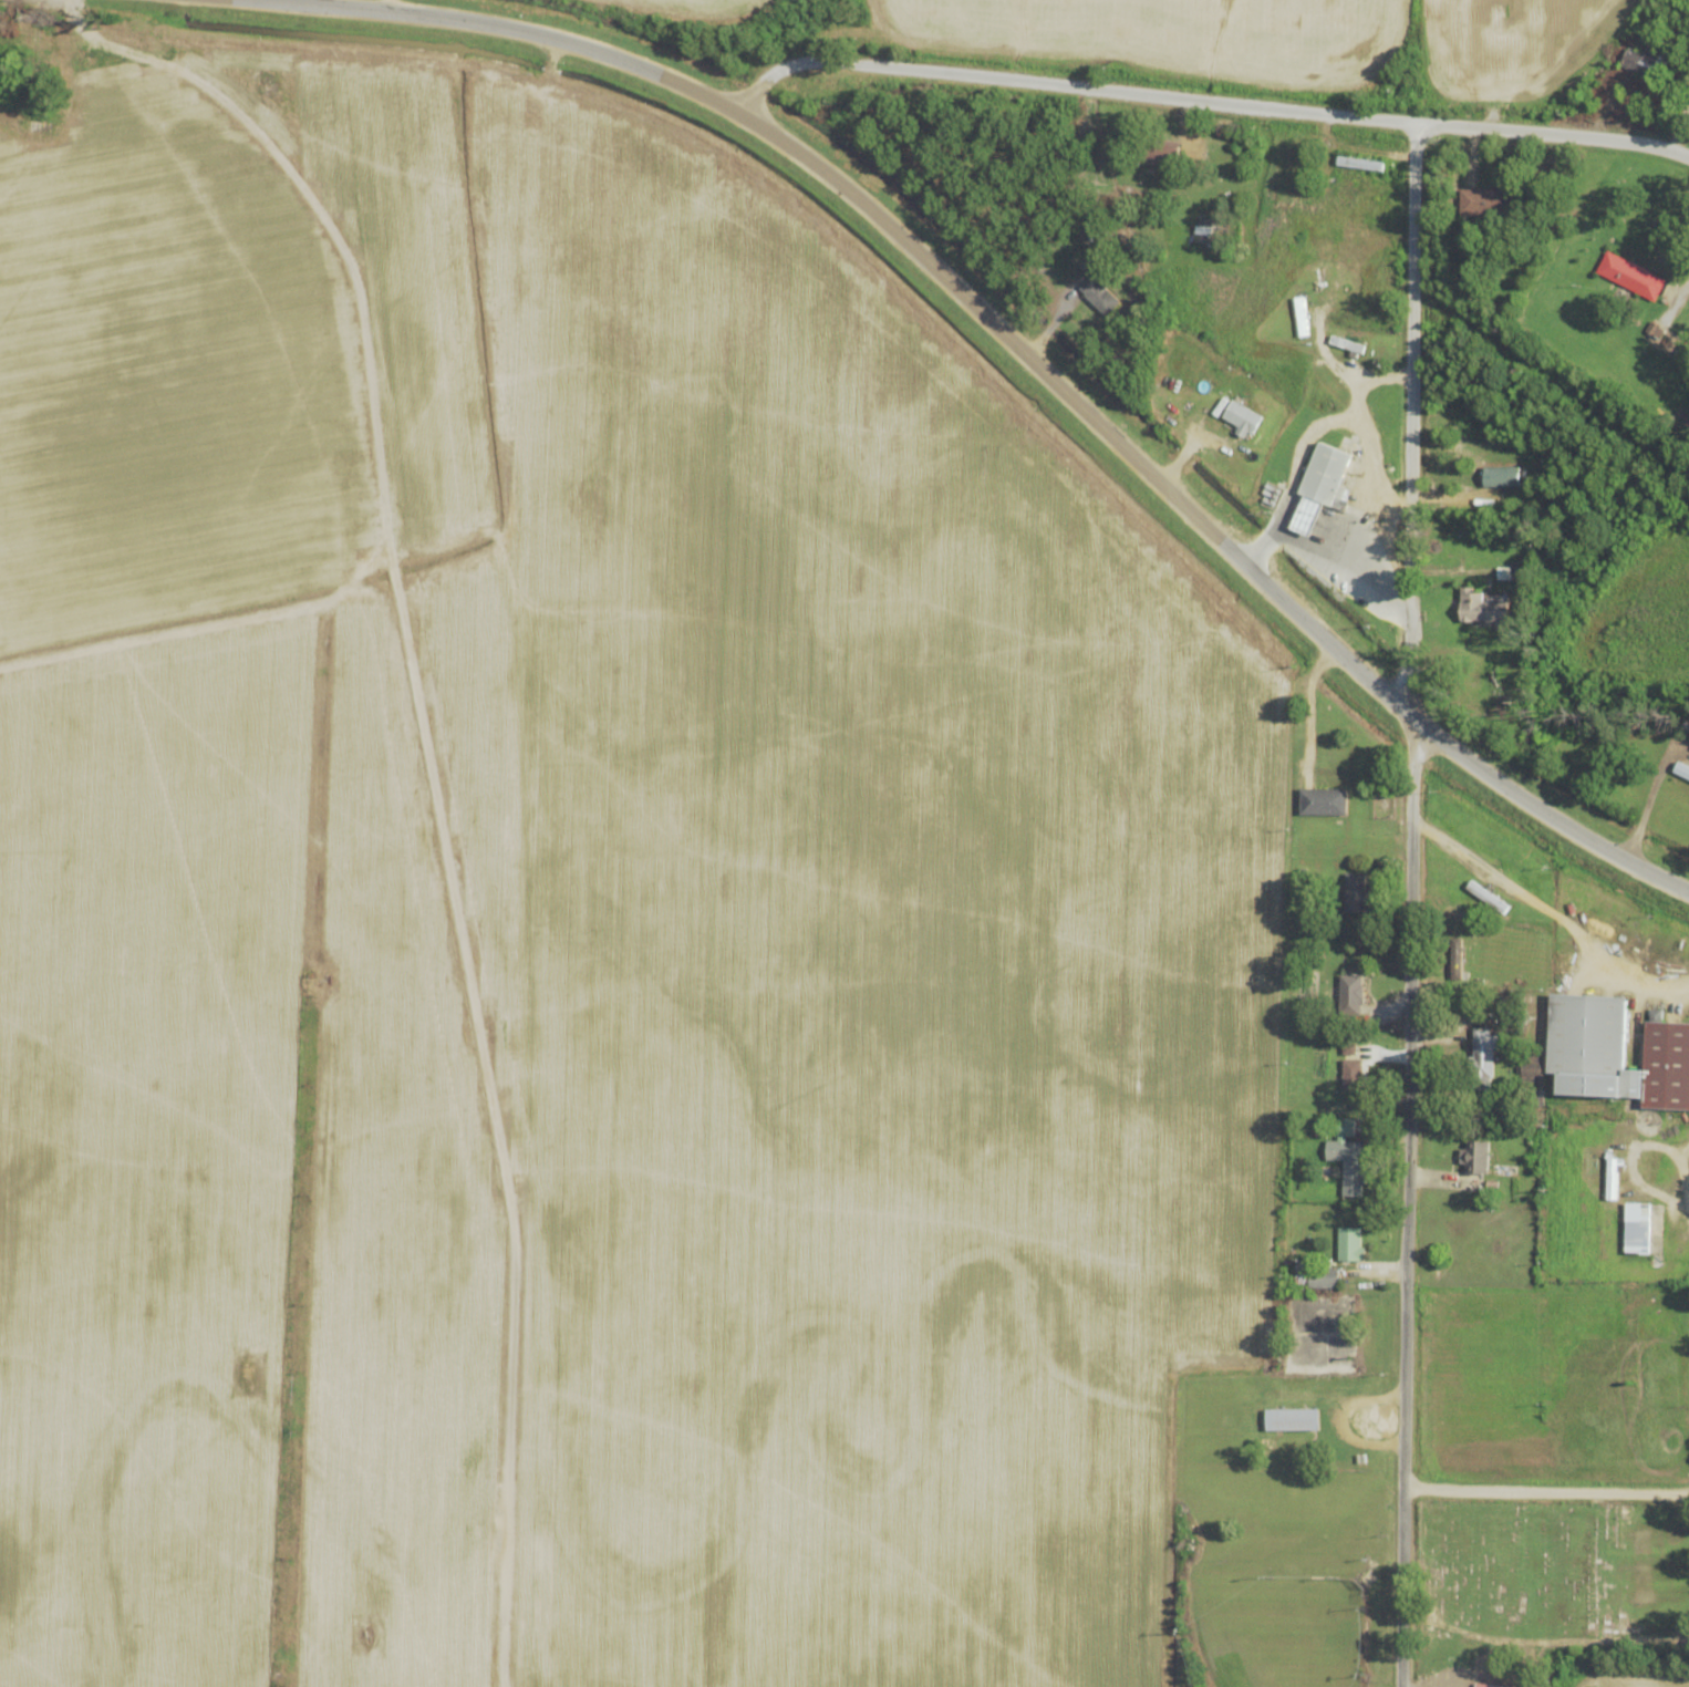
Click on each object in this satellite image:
building: (1679, 10)
road: (504, 25)
building: (1644, 62)
road: (1203, 99)
building: (1160, 156)
building: (1486, 203)
building: (1203, 230)
building: (1630, 276)
building: (1099, 297)
building: (1302, 317)
building: (1515, 390)
road: (1409, 412)
building: (1242, 416)
road: (350, 418)
building: (1502, 477)
building: (1323, 486)
road: (1200, 520)
building: (1519, 571)
building: (1484, 607)
road: (1299, 698)
building: (1323, 801)
building: (1354, 892)
building: (1455, 959)
building: (1350, 995)
building: (1616, 1053)
building: (1483, 1057)
building: (1354, 1073)
road: (488, 1110)
building: (1475, 1156)
building: (1349, 1157)
road: (1408, 1203)
building: (1639, 1228)
building: (1350, 1244)
building: (1324, 1277)
building: (1292, 1419)
road: (1544, 1490)
building: (1483, 1686)

